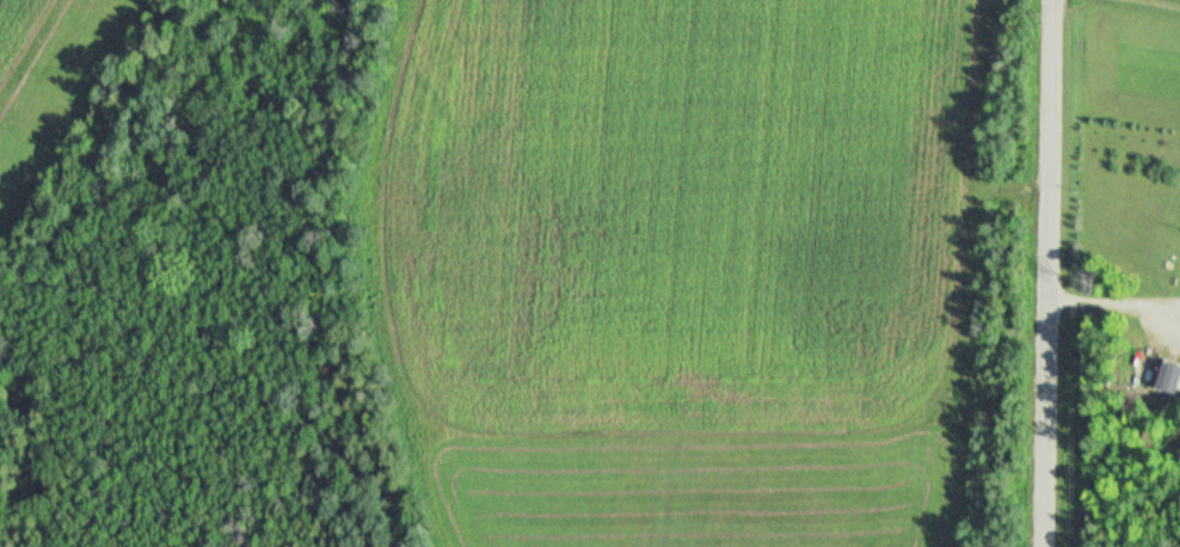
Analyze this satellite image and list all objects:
road: (1154, 5)
road: (1057, 272)
road: (1118, 303)
building: (1170, 377)

